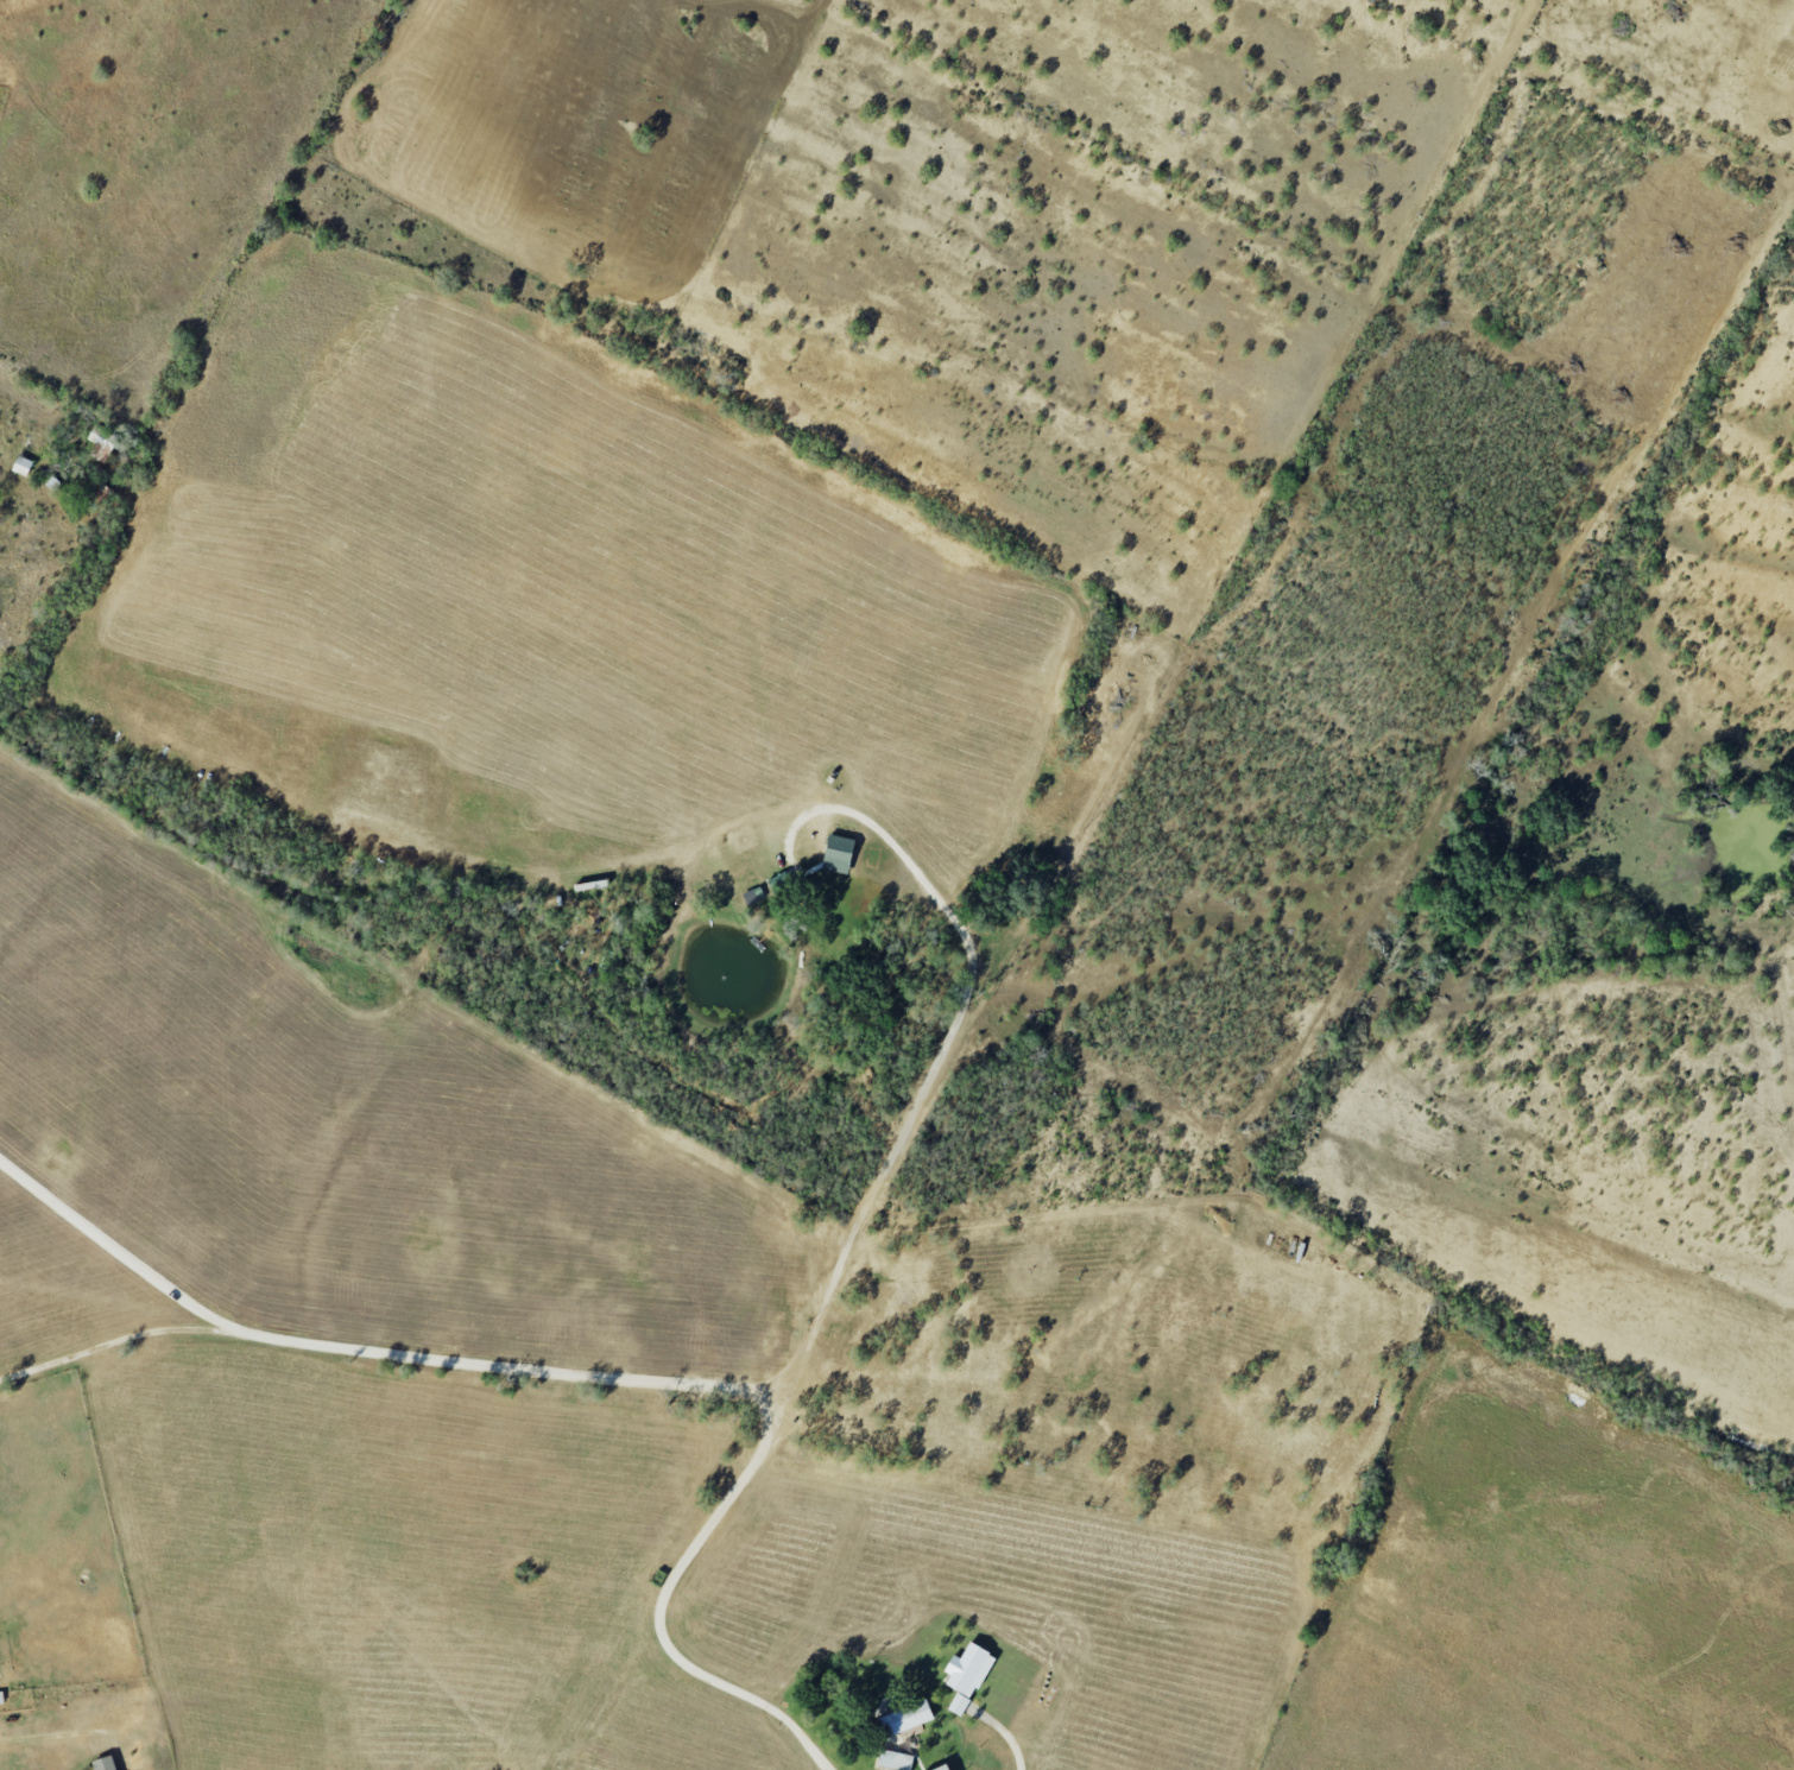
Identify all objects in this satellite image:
building: (101, 443)
building: (21, 466)
building: (838, 854)
road: (113, 1244)
road: (816, 1326)
road: (110, 1342)
road: (657, 1610)
building: (967, 1670)
building: (958, 1705)
building: (905, 1718)
road: (51, 1731)
building: (895, 1760)
building: (105, 1763)
building: (941, 1768)

